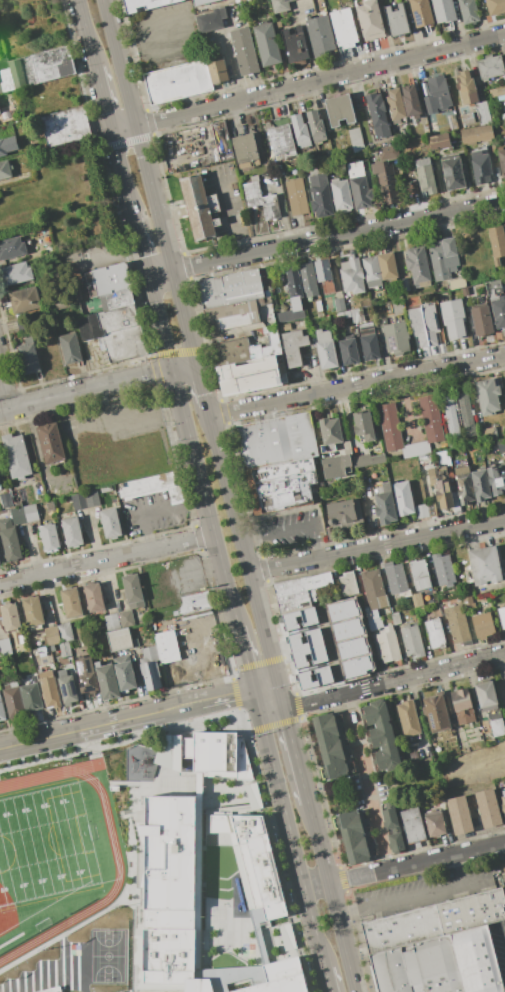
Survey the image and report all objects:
building: (203, 2)
building: (145, 5)
building: (280, 5)
building: (495, 6)
building: (444, 10)
building: (468, 11)
building: (421, 12)
building: (211, 20)
building: (370, 20)
building: (396, 20)
road: (188, 25)
building: (343, 28)
road: (86, 31)
building: (321, 33)
parking lot: (166, 36)
building: (266, 44)
building: (294, 44)
road: (227, 51)
building: (244, 51)
building: (490, 67)
building: (36, 69)
building: (220, 72)
building: (503, 78)
road: (320, 80)
building: (180, 83)
building: (466, 87)
building: (497, 91)
building: (437, 95)
road: (103, 96)
building: (410, 101)
building: (395, 105)
building: (339, 110)
building: (0, 112)
building: (482, 112)
building: (377, 115)
building: (467, 118)
building: (452, 123)
building: (64, 126)
building: (315, 126)
road: (123, 128)
building: (300, 131)
building: (476, 135)
building: (218, 140)
building: (355, 140)
building: (439, 141)
building: (281, 142)
building: (6, 146)
building: (411, 149)
building: (244, 151)
building: (387, 152)
building: (501, 161)
building: (480, 167)
building: (354, 169)
building: (5, 171)
building: (452, 172)
road: (123, 173)
building: (425, 176)
building: (254, 178)
building: (386, 182)
road: (149, 183)
building: (318, 192)
building: (360, 193)
building: (251, 194)
building: (340, 194)
building: (296, 197)
parking lot: (228, 199)
building: (270, 207)
building: (201, 208)
road: (231, 210)
building: (504, 226)
road: (471, 232)
road: (337, 235)
building: (496, 243)
road: (141, 247)
building: (12, 248)
parking lot: (88, 257)
building: (443, 258)
road: (104, 261)
building: (386, 266)
building: (417, 266)
building: (371, 271)
road: (160, 273)
building: (323, 273)
building: (15, 274)
building: (352, 277)
building: (110, 279)
building: (308, 279)
building: (404, 284)
building: (457, 284)
building: (294, 285)
building: (494, 288)
building: (232, 290)
building: (24, 300)
building: (116, 300)
building: (339, 304)
building: (318, 306)
building: (498, 310)
building: (329, 311)
building: (290, 315)
building: (343, 315)
building: (356, 315)
building: (458, 316)
building: (233, 318)
building: (448, 319)
building: (481, 320)
building: (382, 321)
building: (106, 322)
building: (430, 323)
building: (417, 326)
building: (284, 327)
building: (396, 338)
building: (368, 341)
building: (124, 344)
building: (70, 348)
building: (295, 349)
building: (326, 349)
building: (348, 350)
building: (247, 351)
building: (28, 357)
road: (98, 364)
road: (184, 368)
road: (310, 374)
building: (253, 377)
road: (356, 385)
road: (201, 386)
road: (85, 389)
building: (489, 399)
road: (1, 407)
road: (407, 407)
building: (466, 416)
road: (131, 419)
building: (452, 419)
building: (432, 421)
building: (367, 427)
building: (391, 429)
building: (333, 432)
building: (487, 434)
building: (50, 442)
building: (276, 442)
building: (501, 445)
road: (193, 451)
building: (416, 451)
building: (16, 455)
building: (367, 460)
building: (336, 467)
building: (460, 470)
building: (496, 480)
building: (480, 484)
building: (152, 486)
building: (280, 487)
building: (464, 488)
building: (443, 494)
building: (403, 498)
building: (4, 500)
building: (93, 500)
building: (79, 501)
building: (455, 502)
building: (378, 503)
road: (170, 508)
building: (339, 511)
building: (421, 511)
building: (30, 512)
parking lot: (152, 514)
building: (111, 523)
road: (292, 528)
parking lot: (290, 530)
building: (72, 531)
building: (329, 532)
building: (49, 537)
building: (11, 544)
road: (376, 547)
road: (243, 554)
building: (0, 560)
road: (107, 560)
building: (484, 565)
building: (443, 570)
building: (419, 574)
building: (396, 579)
building: (348, 584)
building: (373, 589)
building: (134, 591)
building: (300, 591)
building: (93, 597)
building: (417, 600)
building: (71, 602)
building: (191, 602)
building: (468, 603)
building: (342, 610)
building: (33, 611)
building: (420, 611)
building: (10, 616)
building: (501, 616)
building: (125, 619)
building: (308, 619)
building: (395, 619)
building: (112, 622)
building: (458, 624)
building: (483, 626)
building: (346, 628)
building: (64, 632)
building: (434, 634)
building: (51, 635)
building: (21, 639)
building: (119, 639)
building: (314, 639)
building: (412, 641)
building: (134, 643)
road: (204, 643)
building: (388, 644)
building: (168, 646)
building: (5, 647)
building: (351, 648)
building: (63, 649)
building: (41, 651)
building: (318, 656)
road: (246, 661)
road: (333, 663)
building: (355, 666)
building: (151, 668)
building: (124, 673)
building: (86, 675)
building: (324, 677)
building: (107, 681)
road: (393, 682)
building: (67, 687)
building: (49, 689)
traffic signals: (256, 696)
building: (485, 696)
building: (30, 697)
road: (269, 699)
building: (13, 702)
traffic signals: (282, 702)
building: (462, 706)
building: (1, 711)
building: (436, 713)
road: (127, 718)
building: (408, 718)
building: (495, 723)
building: (381, 736)
building: (330, 747)
building: (209, 752)
road: (294, 752)
road: (271, 757)
building: (428, 762)
track: (75, 767)
road: (366, 782)
building: (503, 802)
building: (488, 808)
building: (459, 815)
building: (434, 823)
building: (412, 826)
building: (393, 831)
building: (352, 836)
park: (44, 843)
road: (317, 843)
road: (296, 854)
track: (51, 856)
building: (250, 857)
road: (416, 863)
road: (457, 870)
building: (165, 884)
road: (316, 886)
road: (416, 895)
building: (434, 921)
road: (315, 929)
road: (341, 937)
park: (106, 955)
building: (440, 965)
building: (275, 977)
road: (327, 980)
building: (54, 990)

